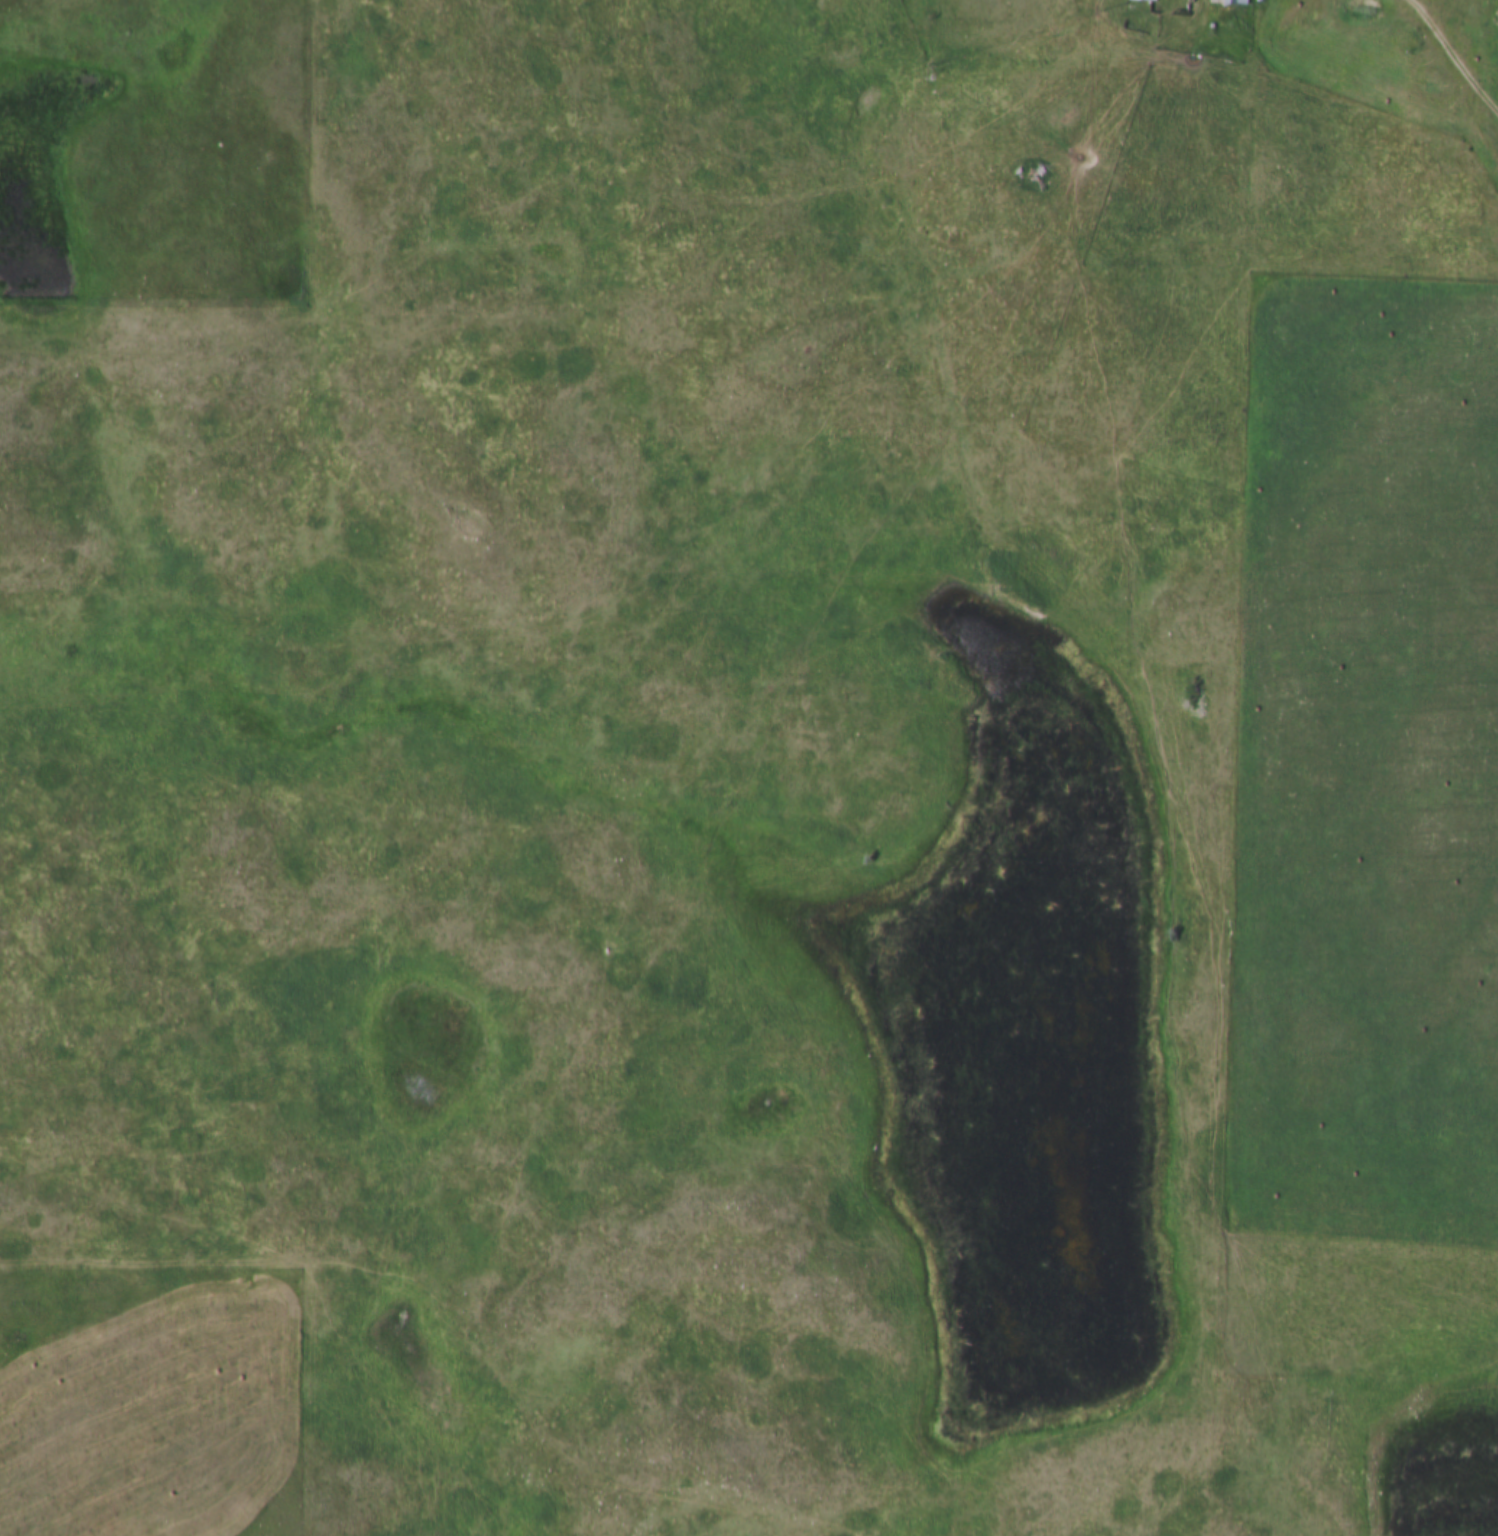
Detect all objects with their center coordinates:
building: (1229, 1)
building: (1363, 8)
road: (1454, 59)
building: (1433, 84)

